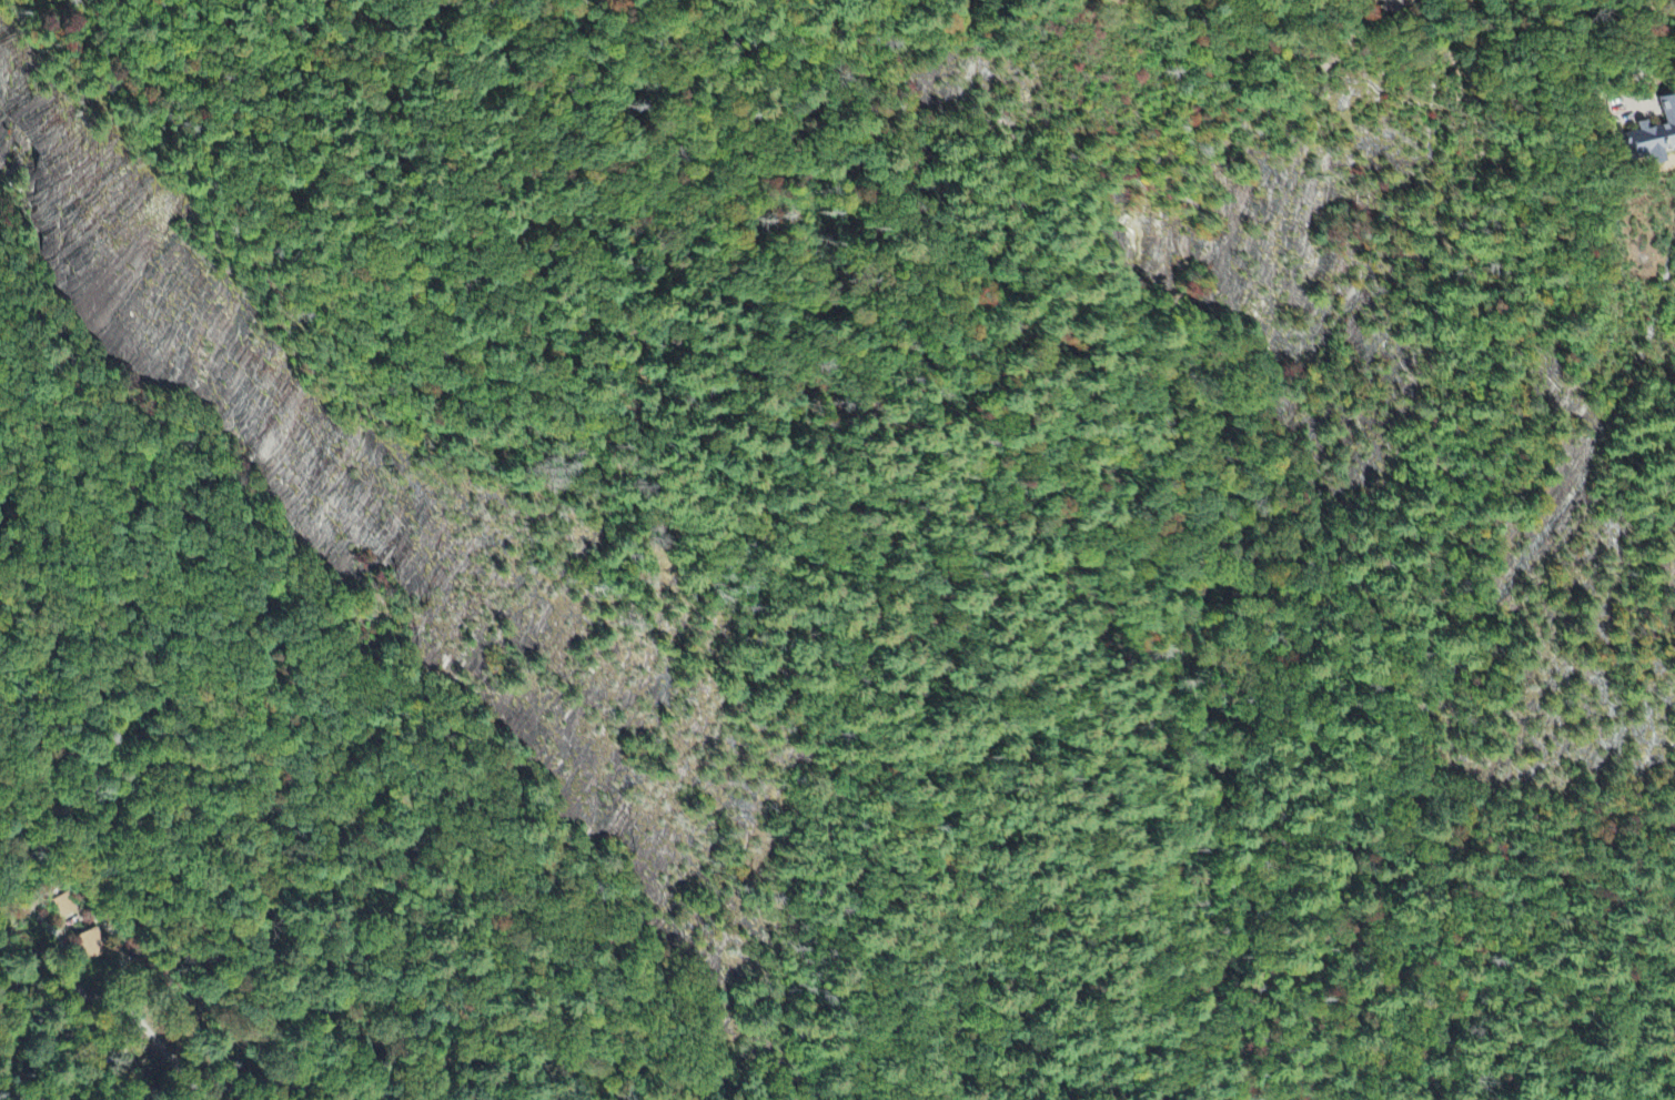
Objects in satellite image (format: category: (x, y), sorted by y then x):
building: (1084, 0)
building: (1393, 6)
building: (1652, 138)
road: (201, 871)
building: (65, 907)
building: (89, 947)

